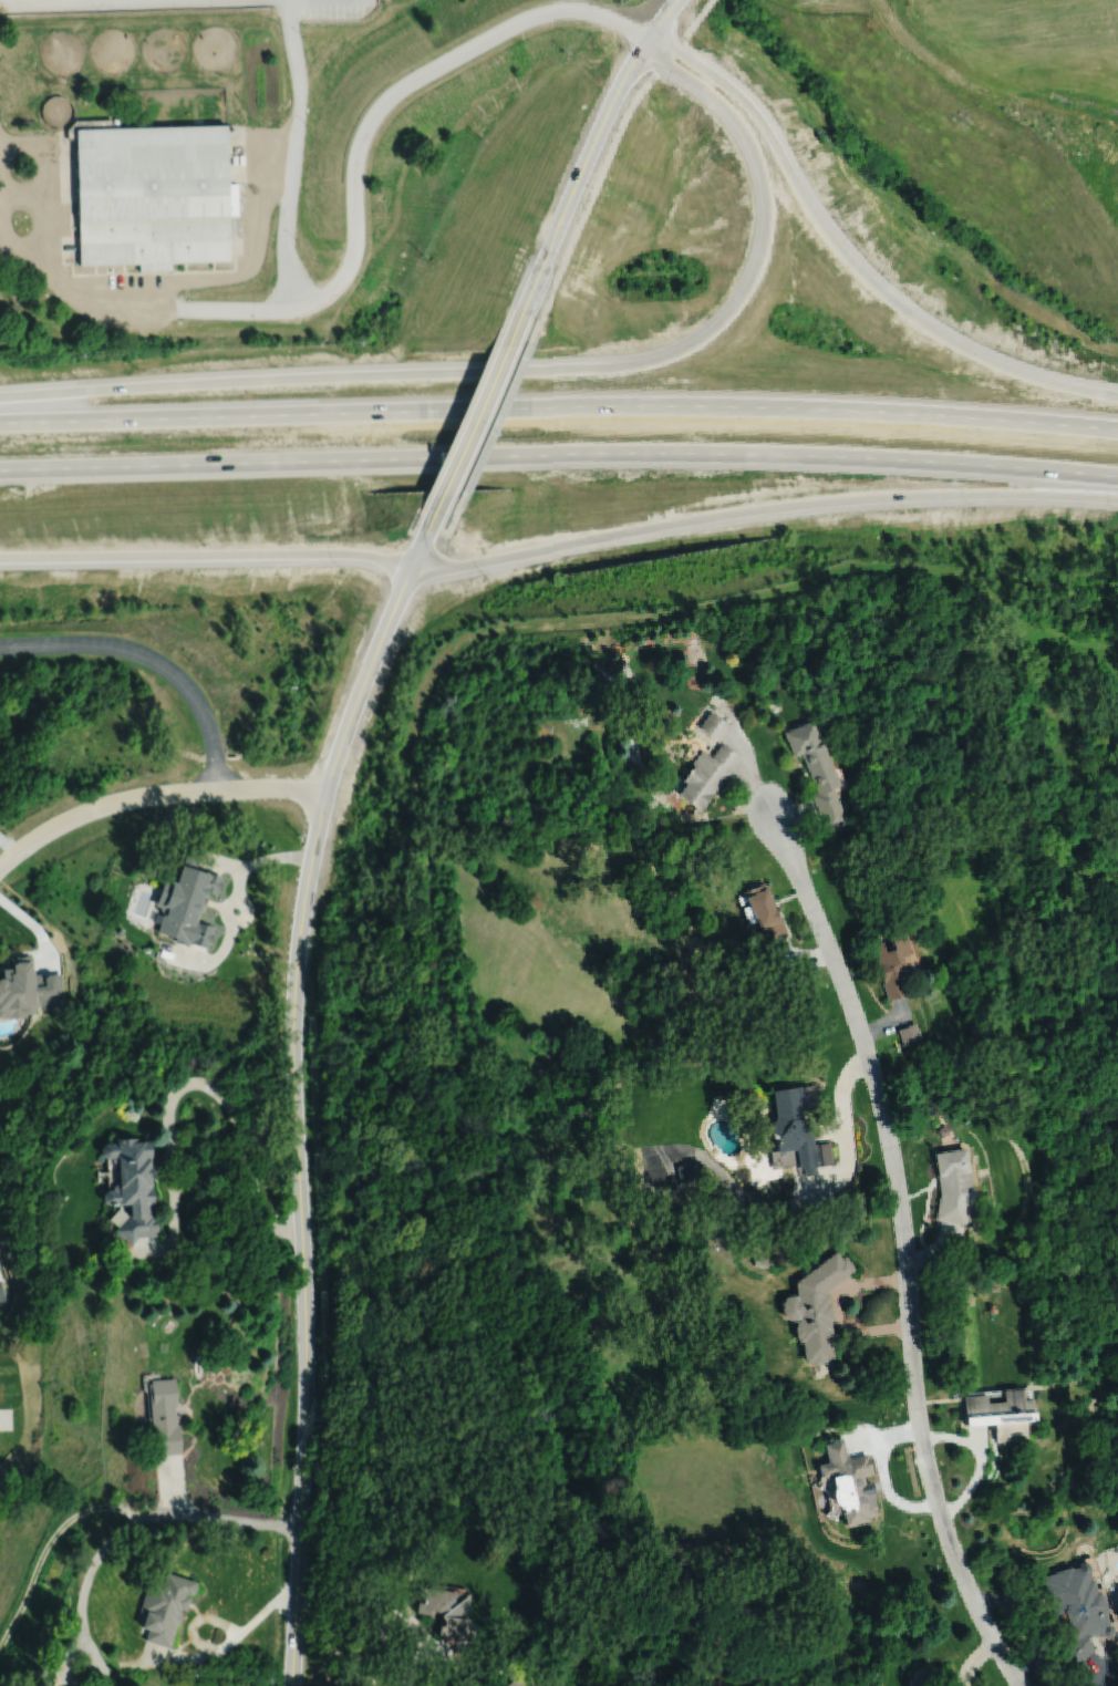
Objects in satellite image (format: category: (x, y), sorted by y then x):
road: (697, 23)
road: (674, 54)
road: (360, 130)
road: (289, 156)
road: (584, 157)
road: (594, 186)
building: (152, 195)
road: (850, 256)
road: (75, 294)
road: (534, 369)
road: (559, 407)
road: (497, 417)
road: (473, 423)
road: (559, 456)
road: (784, 506)
road: (445, 540)
road: (206, 555)
road: (434, 562)
road: (425, 575)
road: (394, 602)
road: (152, 658)
building: (714, 726)
building: (818, 772)
road: (753, 774)
building: (708, 775)
road: (154, 794)
road: (7, 846)
road: (224, 861)
building: (185, 902)
road: (235, 909)
building: (764, 914)
road: (33, 924)
road: (804, 958)
building: (894, 965)
building: (672, 973)
building: (27, 989)
road: (890, 1024)
building: (911, 1035)
road: (187, 1083)
building: (799, 1129)
building: (687, 1173)
road: (299, 1183)
building: (131, 1187)
building: (953, 1188)
road: (814, 1200)
road: (935, 1250)
road: (905, 1251)
building: (764, 1263)
building: (1, 1293)
road: (838, 1307)
building: (817, 1309)
building: (1001, 1413)
building: (163, 1415)
road: (884, 1437)
road: (981, 1461)
building: (849, 1482)
road: (888, 1491)
road: (151, 1514)
road: (46, 1547)
building: (164, 1606)
building: (445, 1612)
building: (1076, 1614)
road: (395, 1615)
road: (218, 1648)
road: (96, 1658)
road: (172, 1659)
road: (974, 1661)
road: (65, 1669)
road: (1101, 1671)
building: (918, 1678)
road: (407, 1680)
building: (514, 1683)

